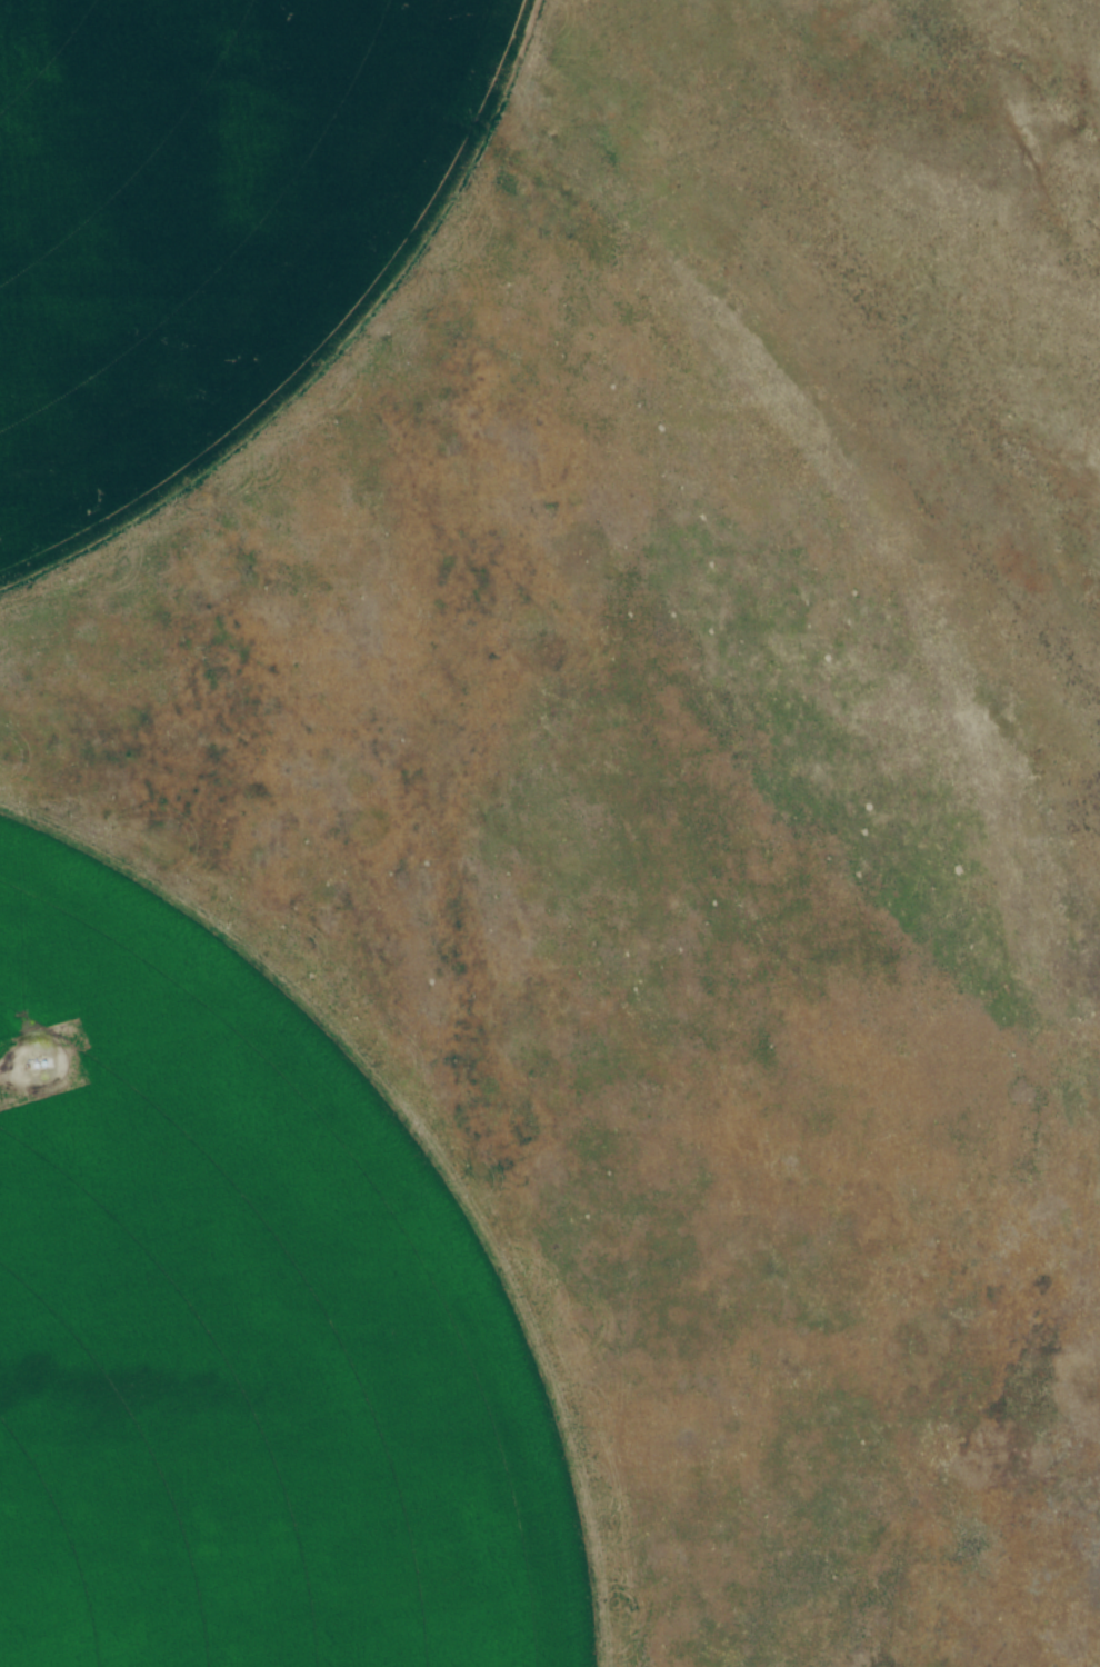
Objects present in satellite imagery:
crop: (198, 213)
crop: (244, 1330)

